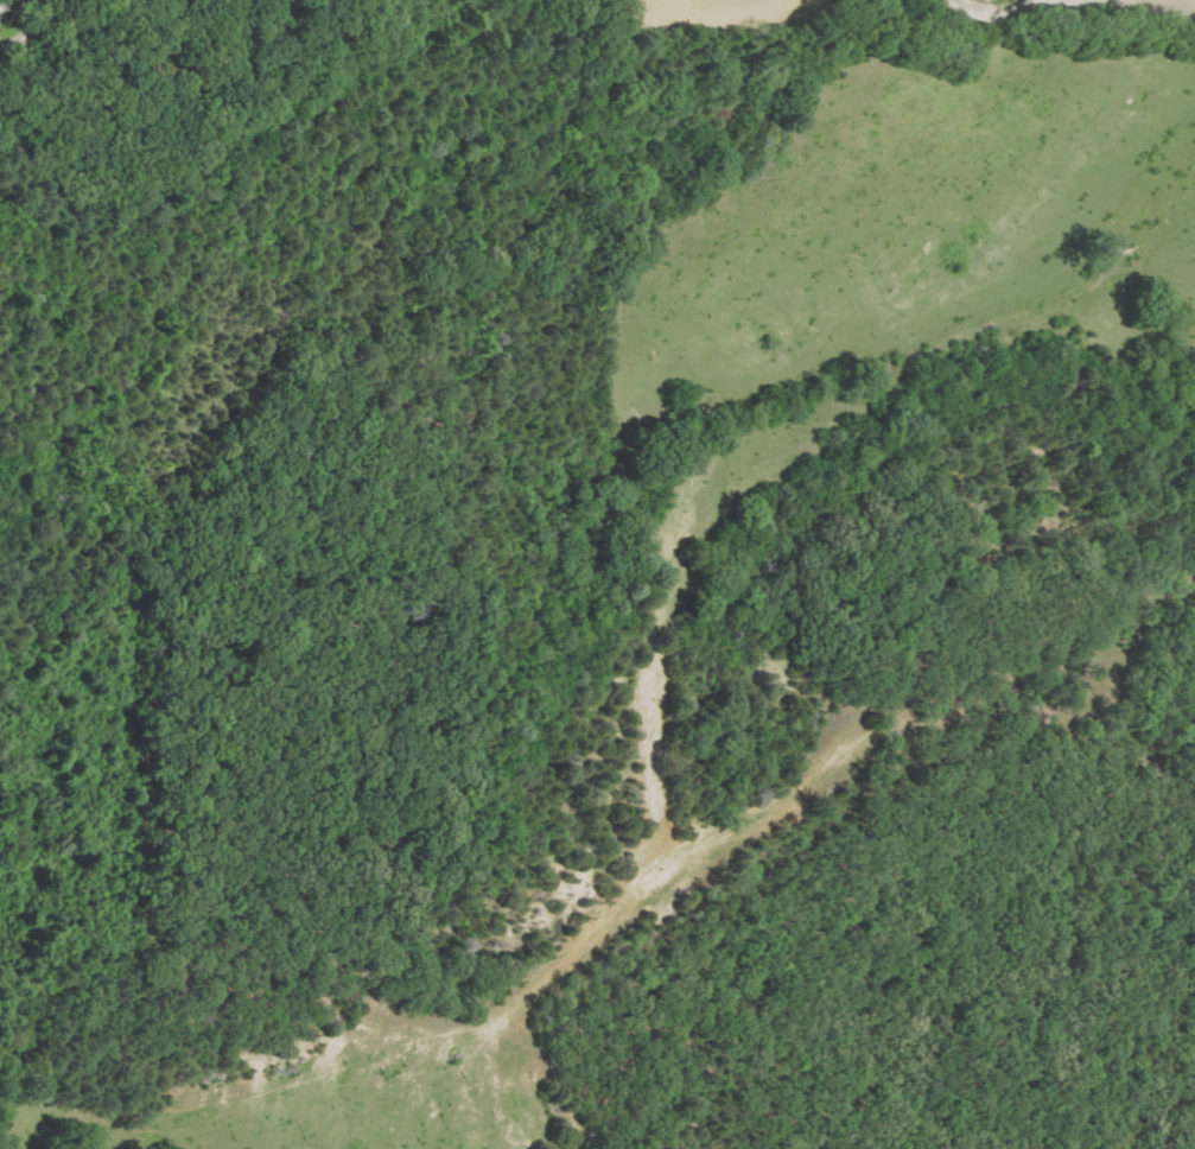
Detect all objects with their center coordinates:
road: (6, 9)

